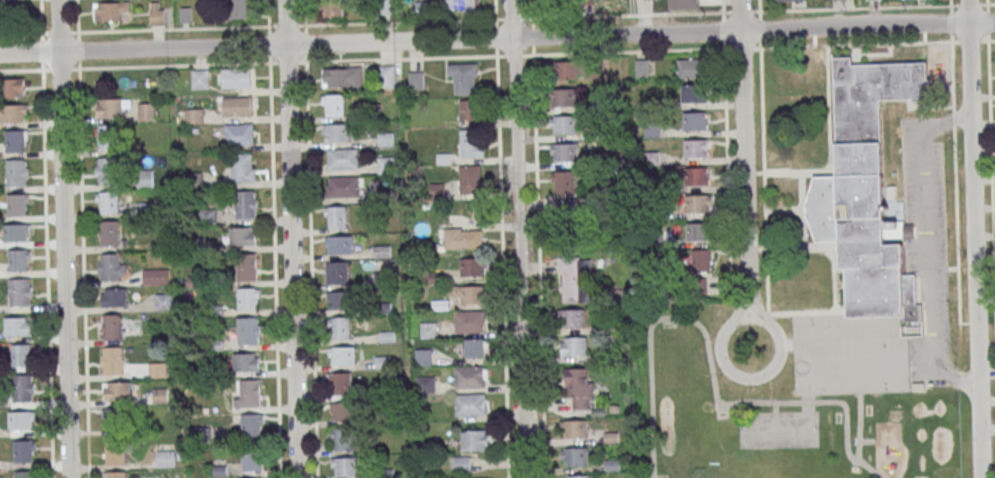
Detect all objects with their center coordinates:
building: (559, 0)
building: (788, 0)
road: (987, 3)
building: (461, 4)
building: (683, 4)
road: (968, 4)
road: (950, 6)
road: (986, 6)
building: (332, 7)
building: (240, 9)
road: (494, 9)
road: (531, 9)
building: (109, 10)
building: (156, 13)
road: (478, 19)
road: (987, 22)
road: (950, 23)
road: (497, 38)
road: (991, 39)
road: (984, 40)
road: (969, 41)
road: (855, 44)
road: (741, 48)
road: (626, 51)
road: (499, 56)
road: (512, 56)
building: (642, 67)
building: (691, 68)
building: (575, 69)
road: (951, 72)
building: (236, 76)
building: (342, 76)
building: (386, 76)
building: (464, 77)
building: (199, 78)
building: (12, 88)
building: (694, 92)
building: (563, 97)
building: (333, 104)
building: (236, 105)
building: (111, 106)
building: (468, 109)
building: (146, 110)
building: (13, 113)
road: (953, 118)
building: (695, 120)
road: (946, 122)
building: (563, 124)
building: (336, 132)
building: (238, 133)
building: (106, 136)
building: (15, 141)
building: (471, 143)
building: (697, 148)
building: (564, 151)
road: (743, 156)
building: (343, 158)
building: (385, 164)
building: (242, 167)
road: (991, 167)
road: (726, 168)
building: (106, 170)
building: (17, 173)
building: (696, 175)
building: (470, 179)
building: (563, 181)
road: (764, 181)
building: (343, 185)
building: (867, 190)
building: (108, 202)
building: (698, 203)
building: (246, 204)
building: (18, 205)
building: (336, 216)
building: (568, 217)
road: (956, 224)
road: (927, 226)
building: (698, 231)
building: (110, 232)
building: (16, 233)
building: (242, 235)
building: (467, 237)
road: (45, 238)
road: (82, 238)
road: (310, 238)
road: (519, 238)
road: (973, 238)
road: (62, 239)
road: (273, 239)
road: (289, 239)
building: (339, 244)
building: (702, 260)
building: (19, 261)
building: (112, 266)
building: (247, 266)
building: (472, 266)
road: (538, 266)
road: (502, 267)
building: (337, 272)
building: (155, 276)
building: (575, 279)
building: (699, 286)
building: (20, 292)
building: (469, 294)
building: (115, 296)
building: (248, 298)
building: (338, 299)
building: (164, 301)
road: (808, 312)
road: (765, 315)
building: (572, 318)
building: (470, 320)
road: (972, 322)
road: (963, 323)
building: (18, 326)
building: (112, 326)
building: (341, 327)
building: (250, 329)
building: (429, 329)
road: (778, 330)
road: (650, 332)
building: (573, 345)
building: (476, 347)
building: (342, 354)
building: (21, 355)
building: (423, 356)
building: (113, 359)
building: (246, 361)
park: (887, 364)
road: (938, 365)
building: (157, 369)
building: (469, 375)
building: (341, 382)
building: (425, 383)
building: (580, 386)
building: (24, 388)
building: (117, 390)
building: (249, 393)
road: (826, 400)
building: (470, 403)
building: (343, 410)
road: (718, 411)
building: (116, 419)
building: (22, 420)
building: (251, 424)
road: (859, 426)
building: (575, 428)
building: (342, 438)
building: (476, 439)
building: (115, 450)
building: (23, 451)
building: (165, 455)
building: (252, 456)
building: (575, 456)
building: (461, 463)
building: (345, 465)
building: (26, 474)
building: (117, 474)
building: (576, 476)
building: (476, 477)

